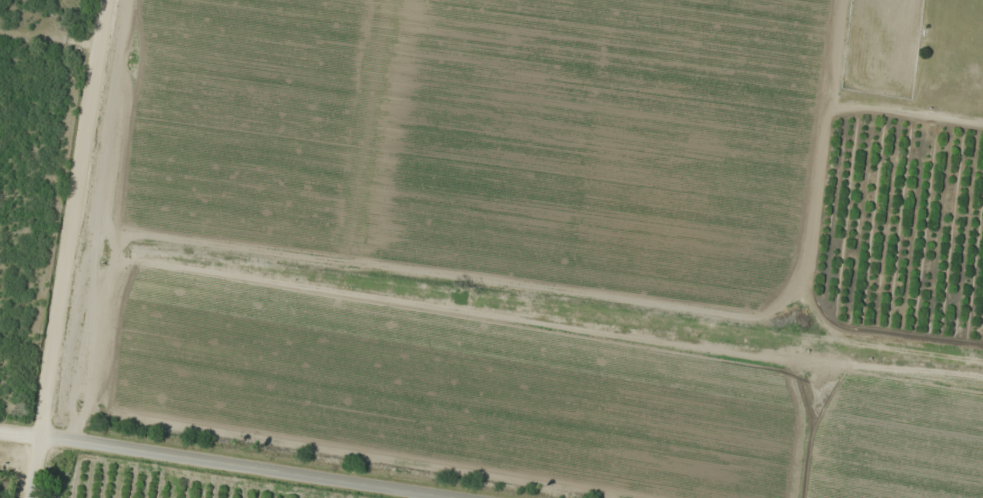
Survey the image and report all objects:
road: (62, 248)
road: (213, 466)

